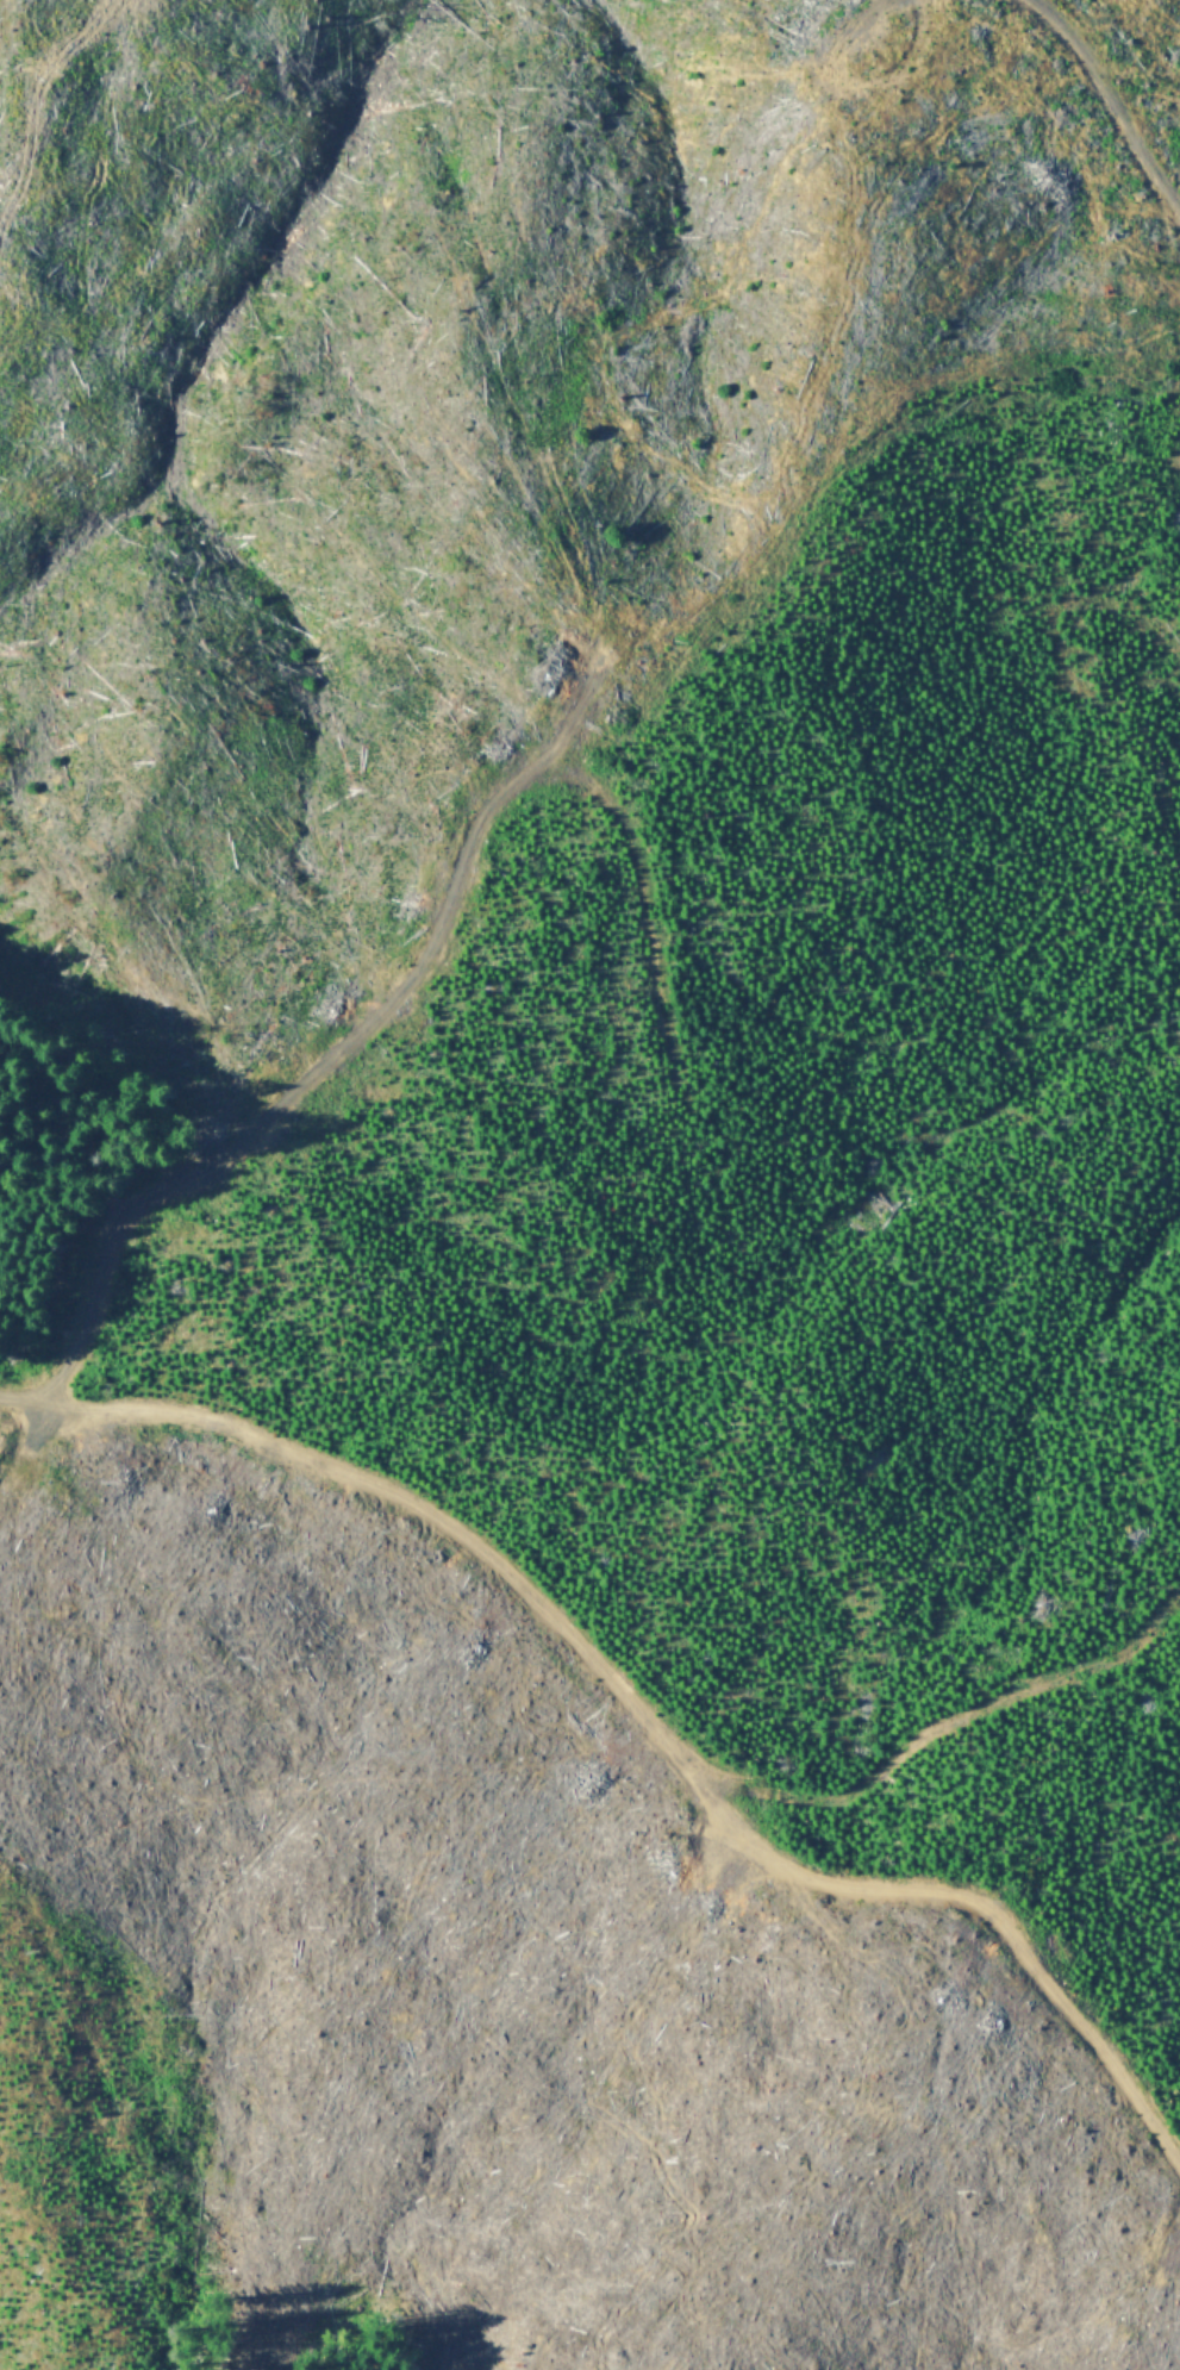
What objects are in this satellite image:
road: (407, 968)
road: (641, 1711)
road: (947, 1721)

